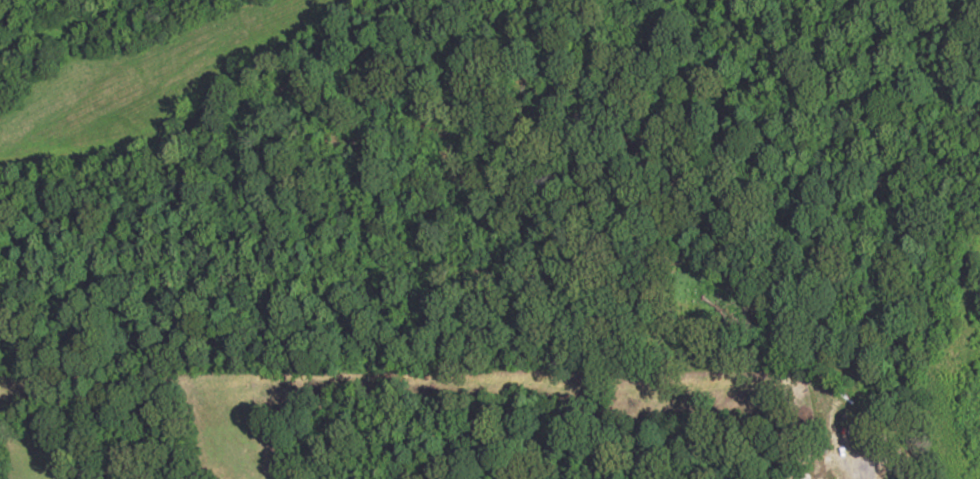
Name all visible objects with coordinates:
road: (824, 373)

